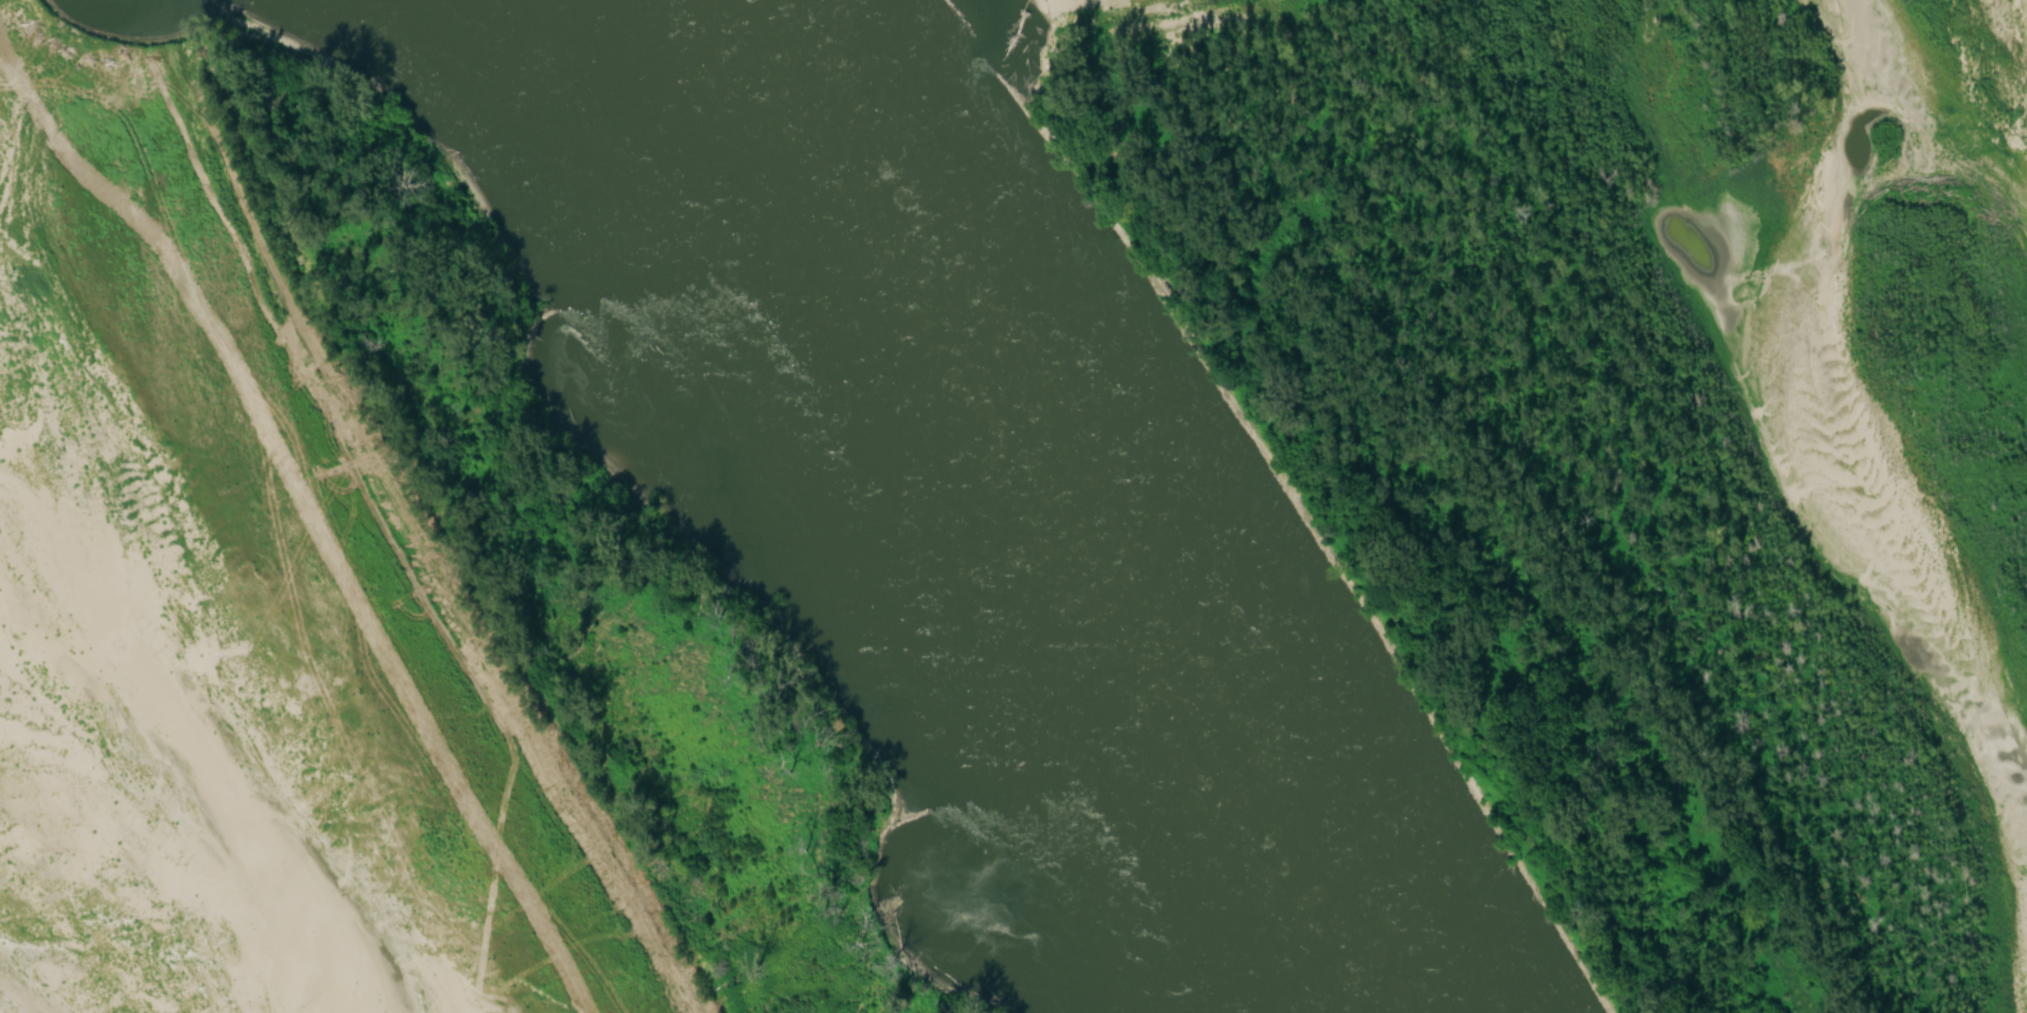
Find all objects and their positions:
river: (994, 497)

